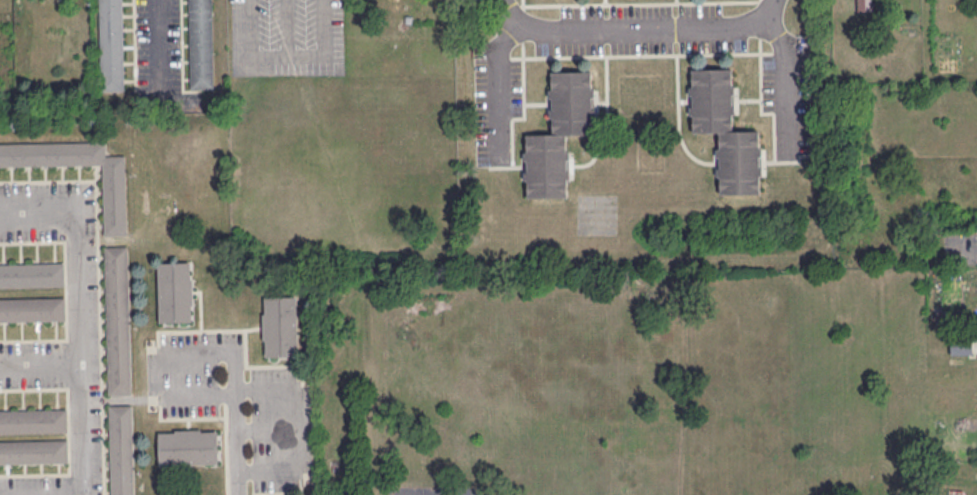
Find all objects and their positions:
road: (604, 1)
road: (675, 1)
road: (639, 2)
road: (522, 4)
road: (506, 5)
building: (865, 6)
road: (760, 18)
road: (627, 23)
road: (523, 24)
building: (201, 43)
road: (323, 44)
building: (111, 45)
road: (158, 45)
road: (778, 50)
road: (641, 54)
road: (269, 55)
road: (502, 56)
road: (786, 87)
road: (494, 97)
building: (712, 99)
building: (571, 101)
road: (760, 105)
road: (523, 107)
road: (790, 160)
building: (739, 161)
building: (546, 164)
road: (505, 166)
road: (48, 179)
building: (114, 199)
road: (39, 209)
road: (968, 254)
building: (32, 274)
road: (98, 279)
road: (66, 290)
building: (174, 291)
building: (32, 308)
building: (117, 320)
building: (280, 325)
road: (200, 329)
building: (962, 346)
road: (81, 352)
road: (41, 364)
road: (257, 365)
road: (165, 367)
parking lot: (193, 370)
road: (159, 374)
road: (102, 398)
road: (125, 398)
road: (225, 399)
road: (185, 417)
road: (297, 419)
building: (33, 420)
road: (235, 427)
road: (267, 429)
road: (69, 430)
parking lot: (282, 430)
building: (188, 446)
road: (103, 449)
building: (121, 449)
road: (227, 449)
building: (34, 451)
road: (250, 471)
road: (285, 491)
road: (262, 494)

